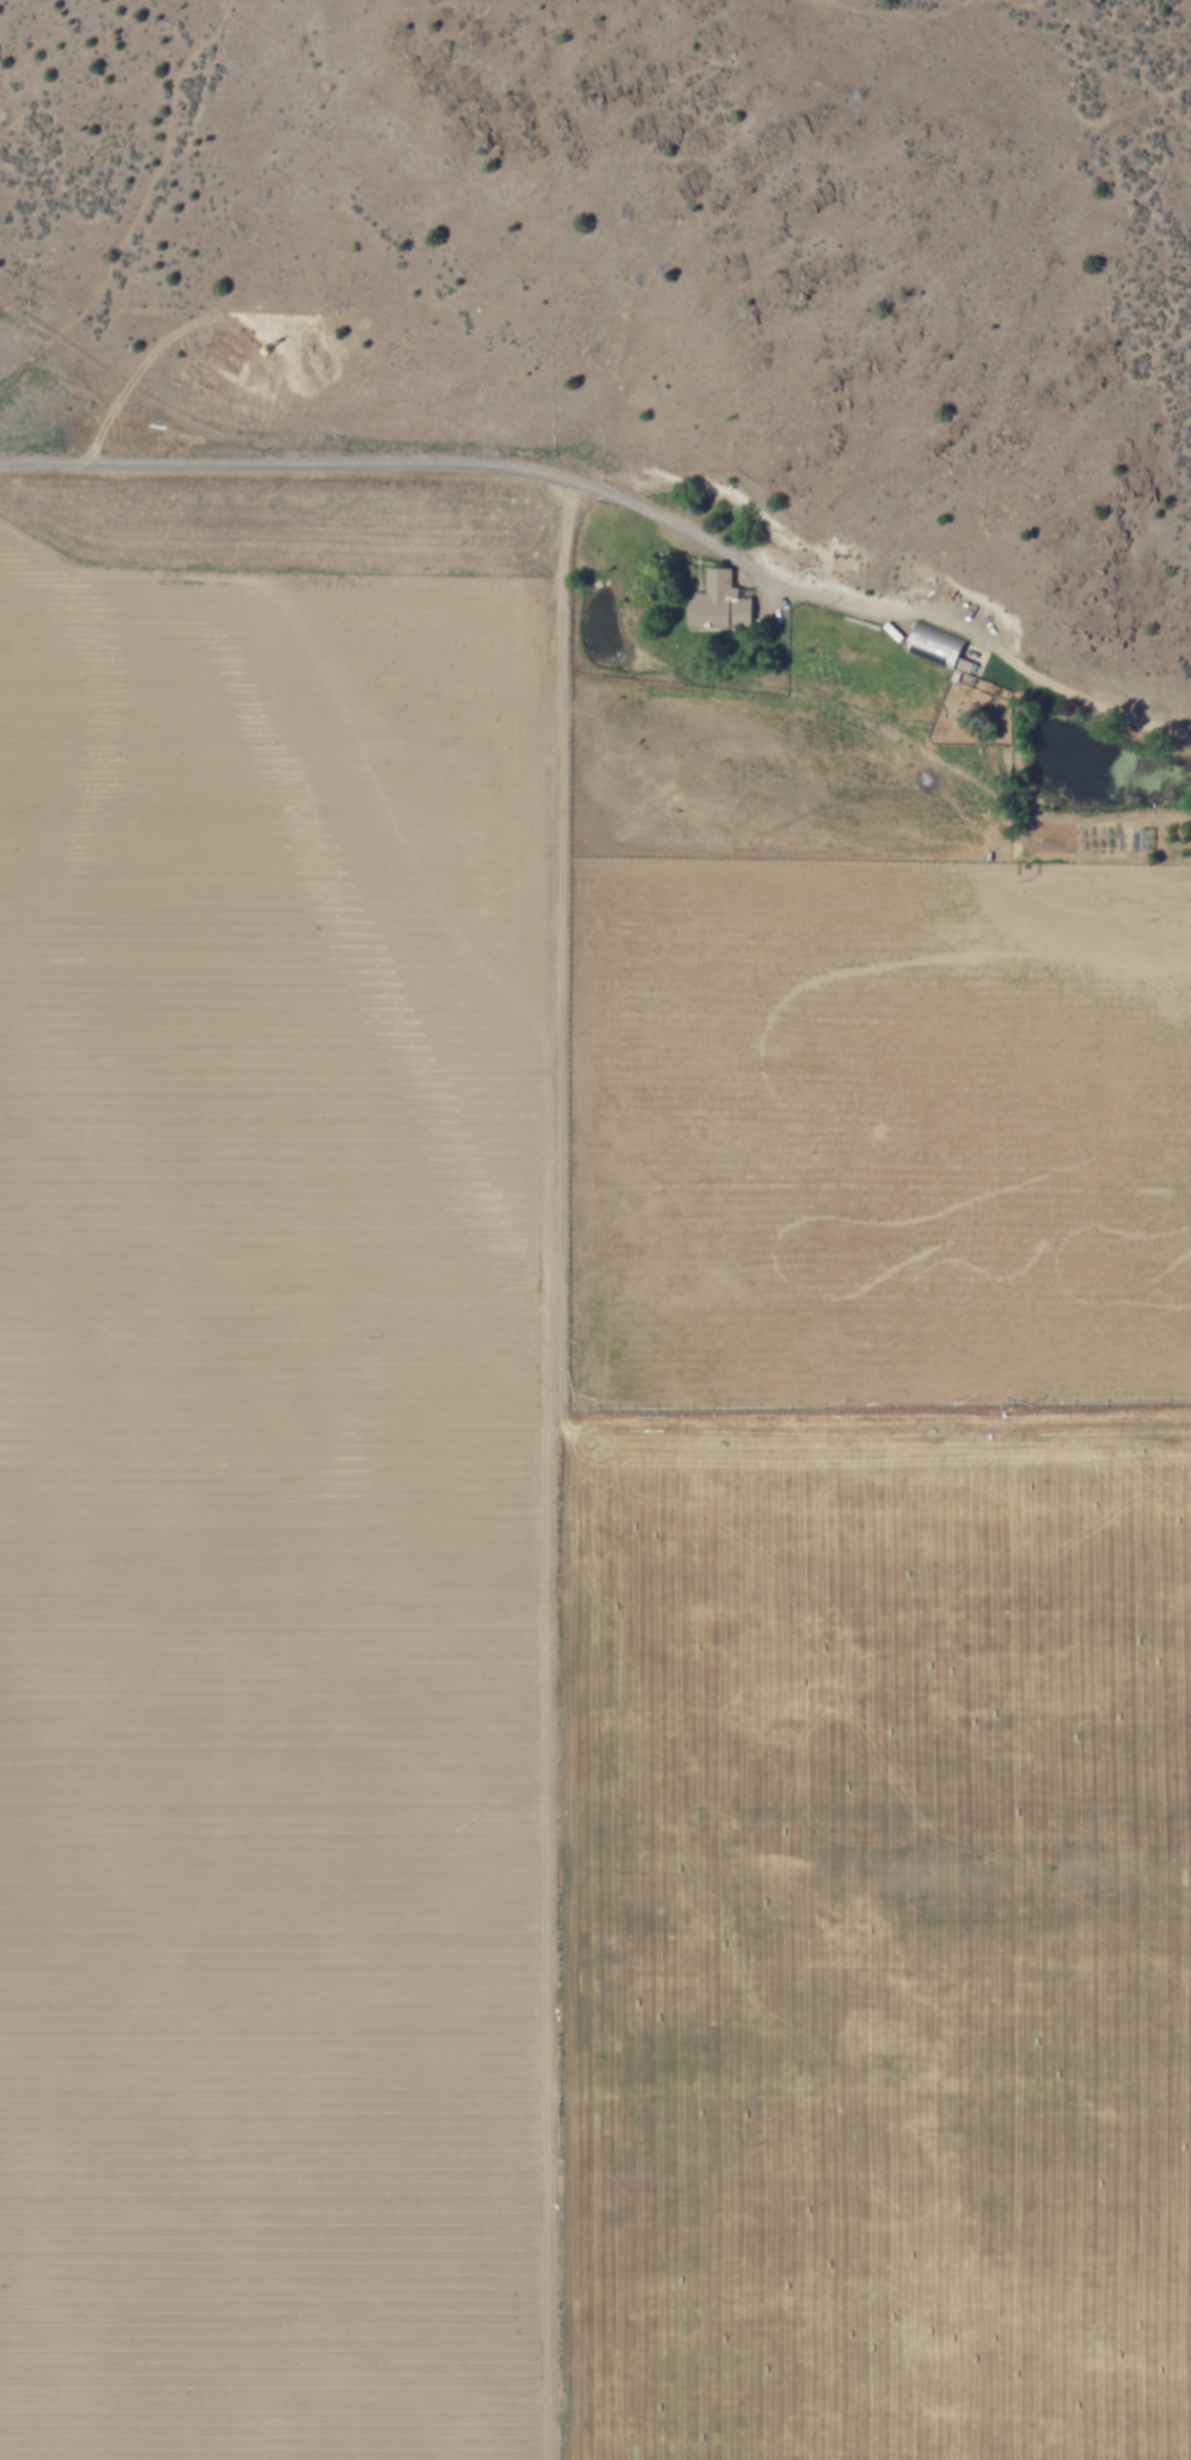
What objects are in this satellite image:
road: (352, 480)
building: (718, 602)
building: (939, 648)
crop: (564, 1541)

